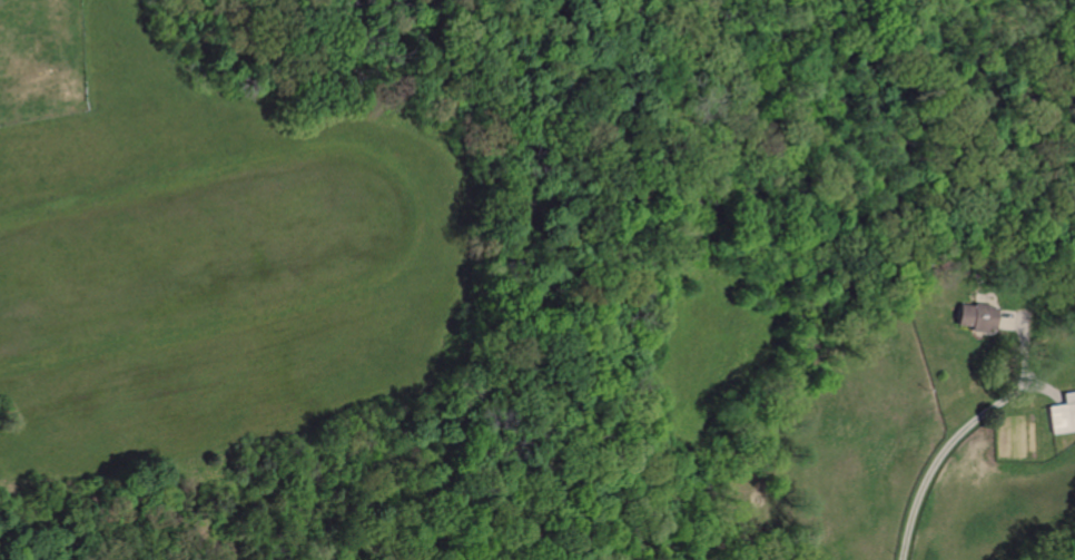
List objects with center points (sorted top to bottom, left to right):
building: (976, 317)
building: (1063, 414)
road: (946, 456)

